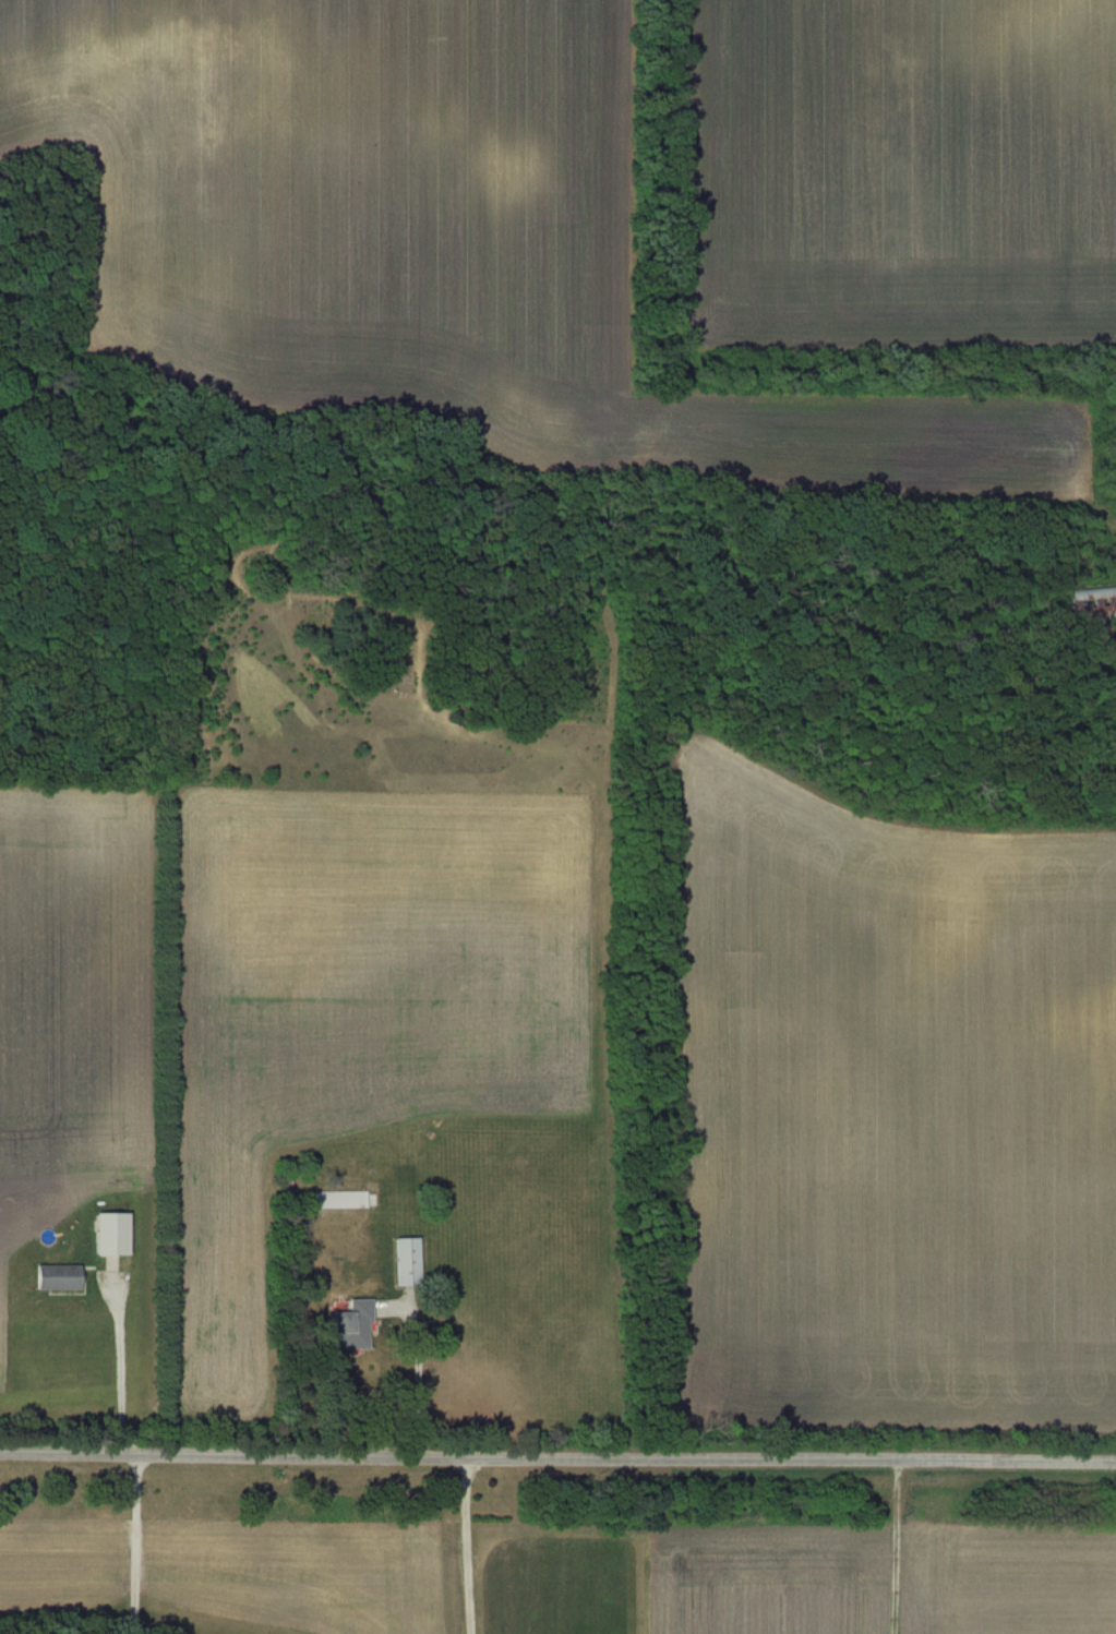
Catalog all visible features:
building: (1092, 596)
building: (340, 1198)
building: (53, 1275)
building: (352, 1324)
road: (557, 1453)
road: (884, 1545)

